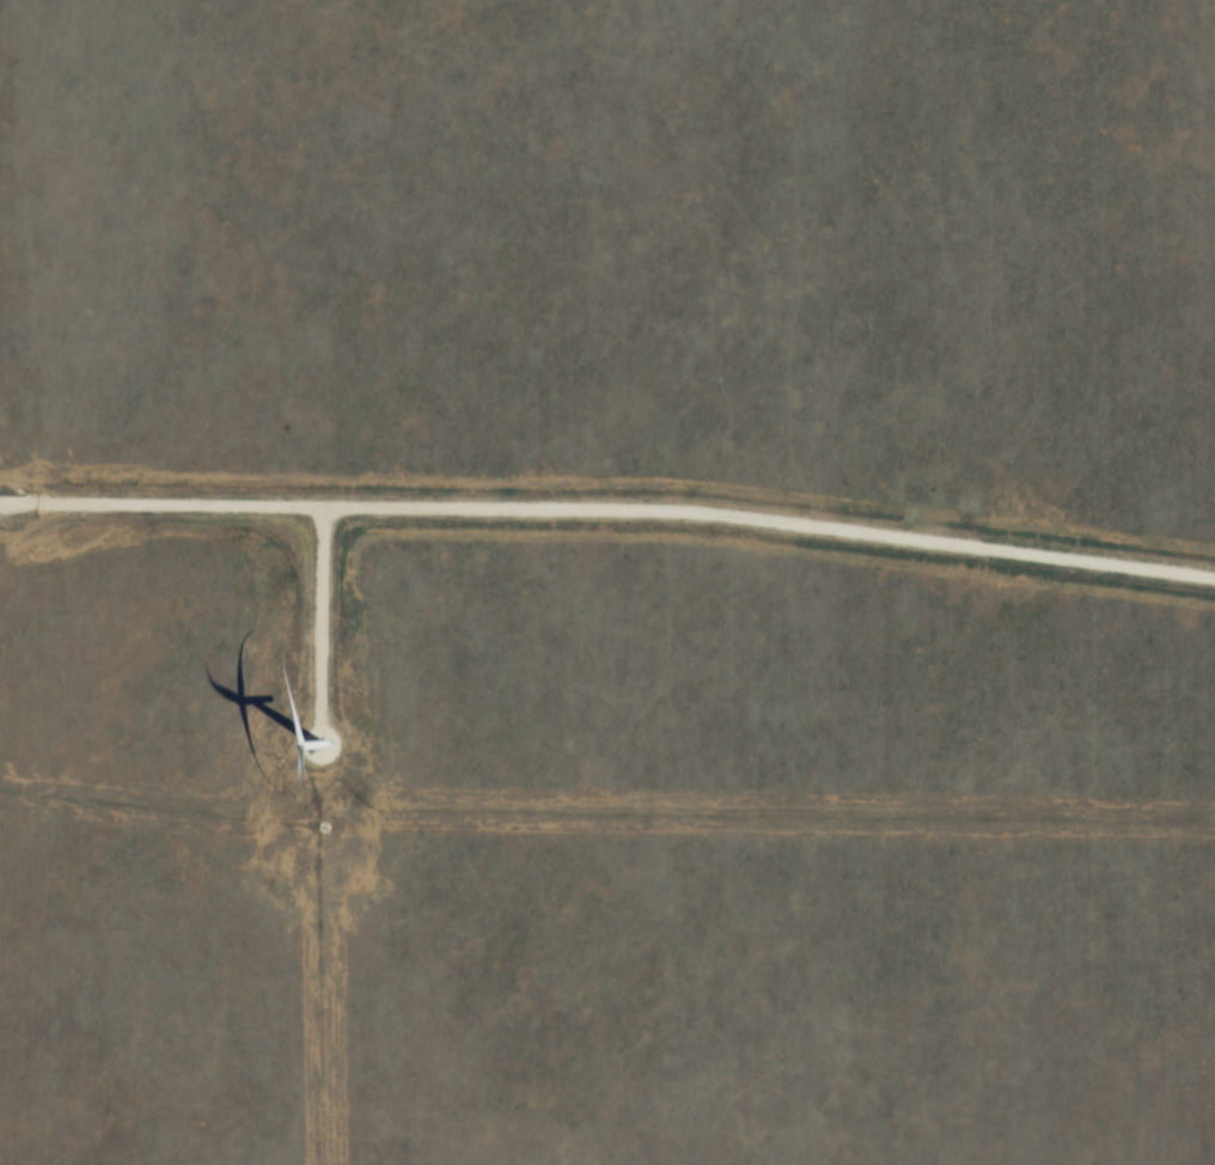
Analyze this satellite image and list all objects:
wind turbine: (307, 745)

